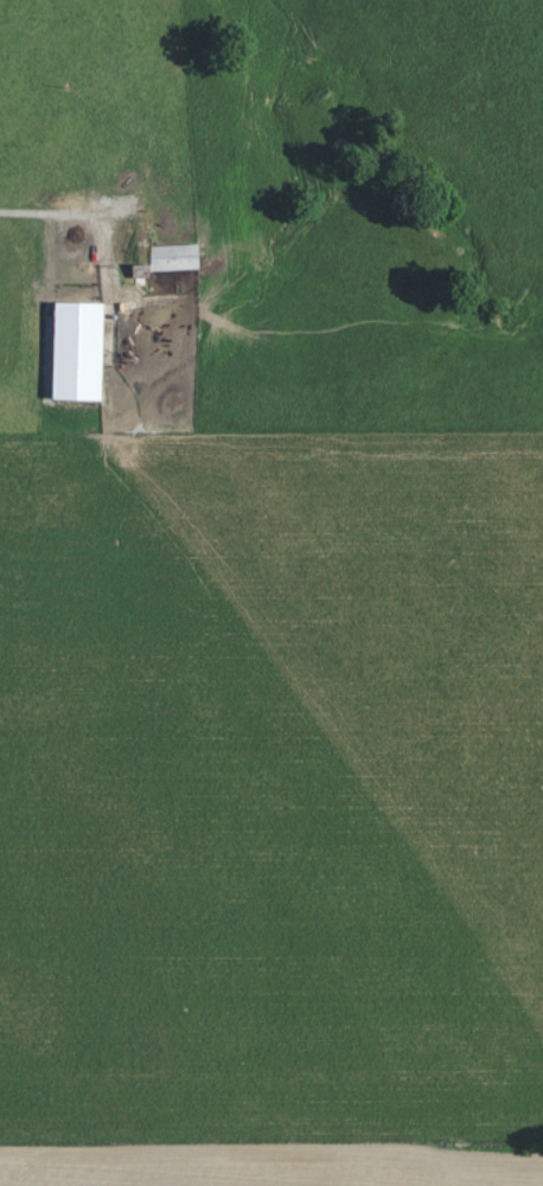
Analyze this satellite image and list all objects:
building: (174, 257)
building: (74, 332)

